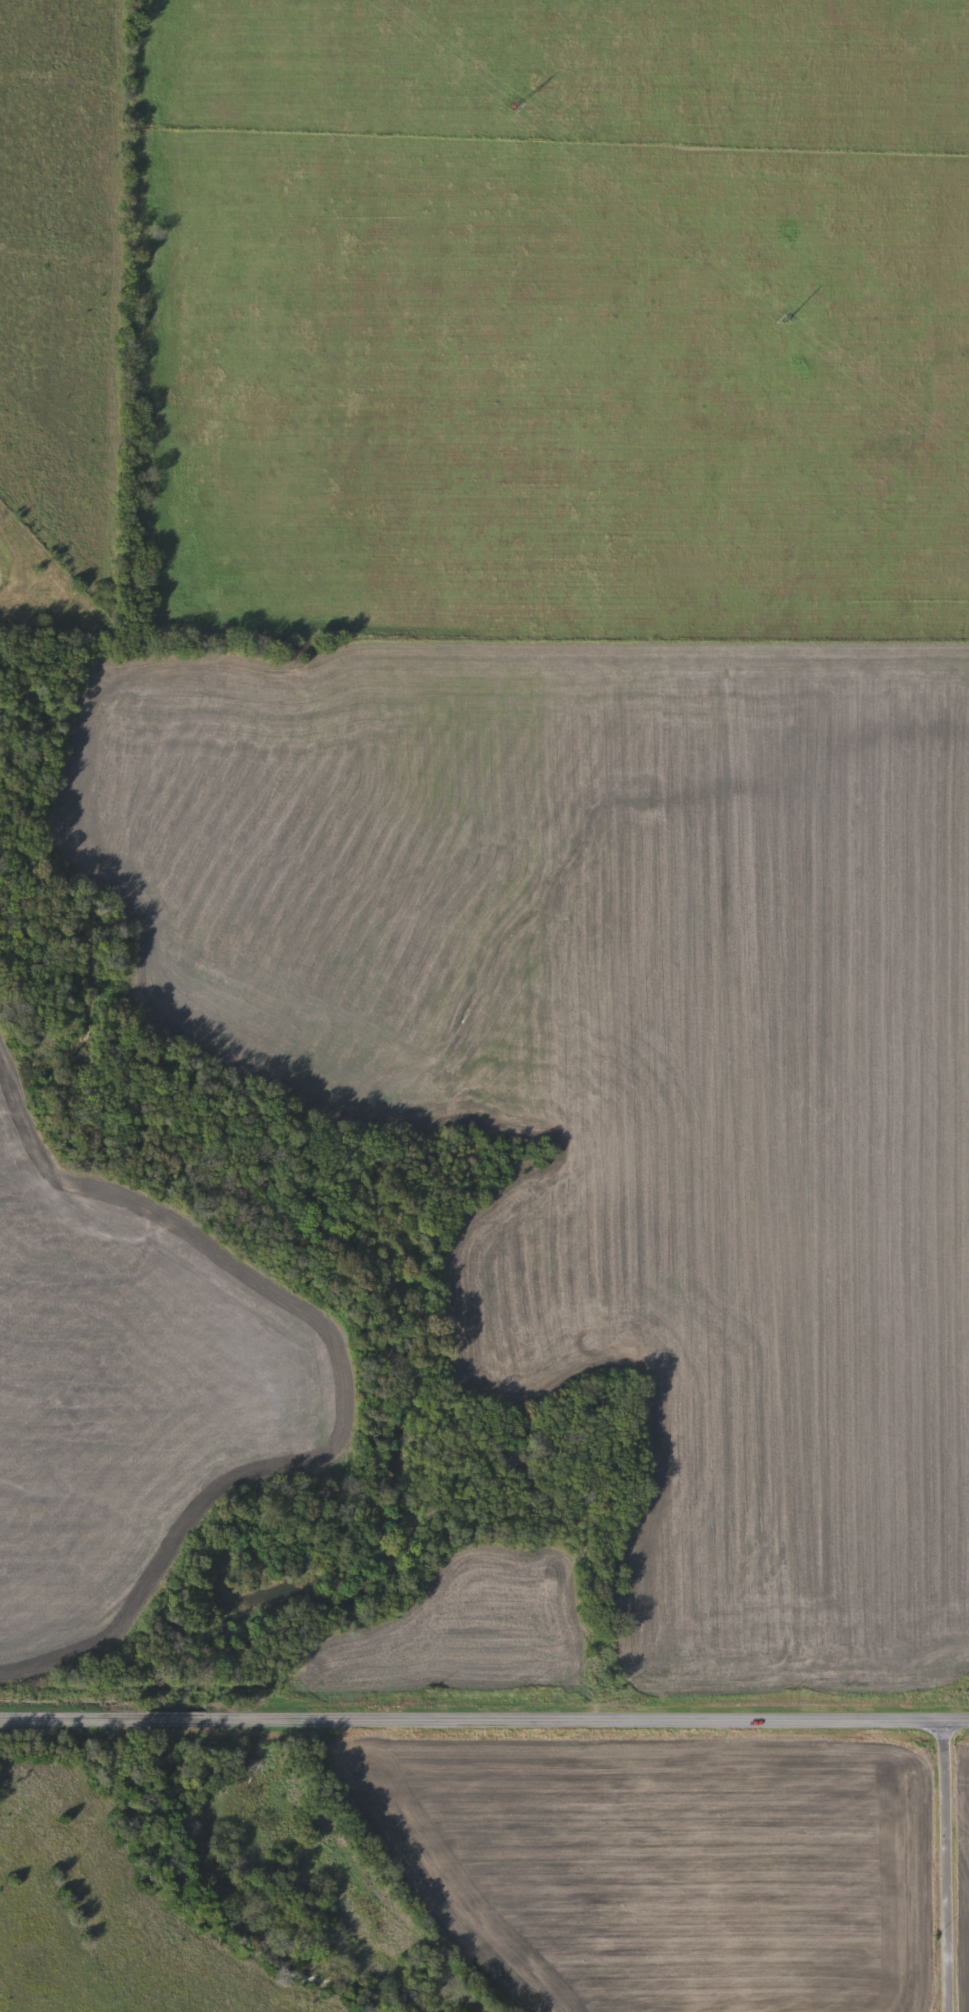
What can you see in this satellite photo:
power tower: (516, 105)
power tower: (790, 316)
road: (599, 1612)
road: (484, 1718)
road: (296, 1866)
road: (948, 1869)

